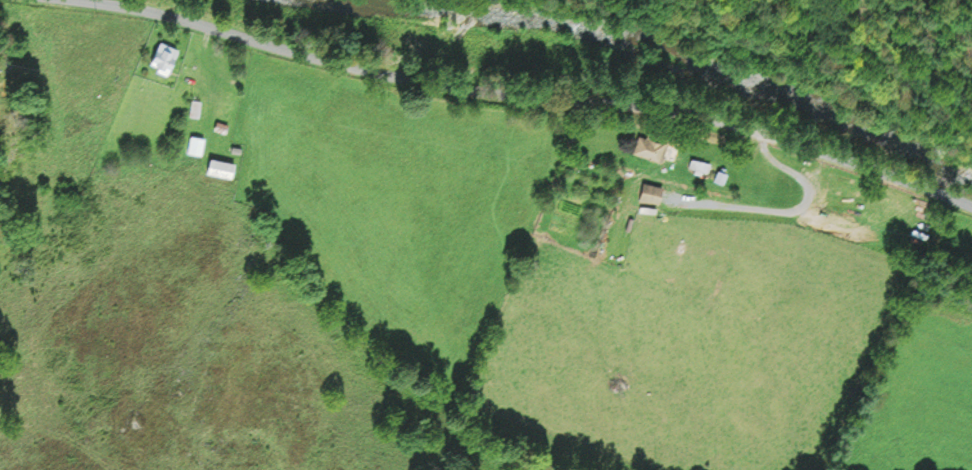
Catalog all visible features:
building: (162, 57)
road: (533, 93)
building: (195, 108)
building: (220, 126)
building: (650, 145)
building: (220, 168)
building: (708, 170)
building: (649, 193)
road: (790, 211)

